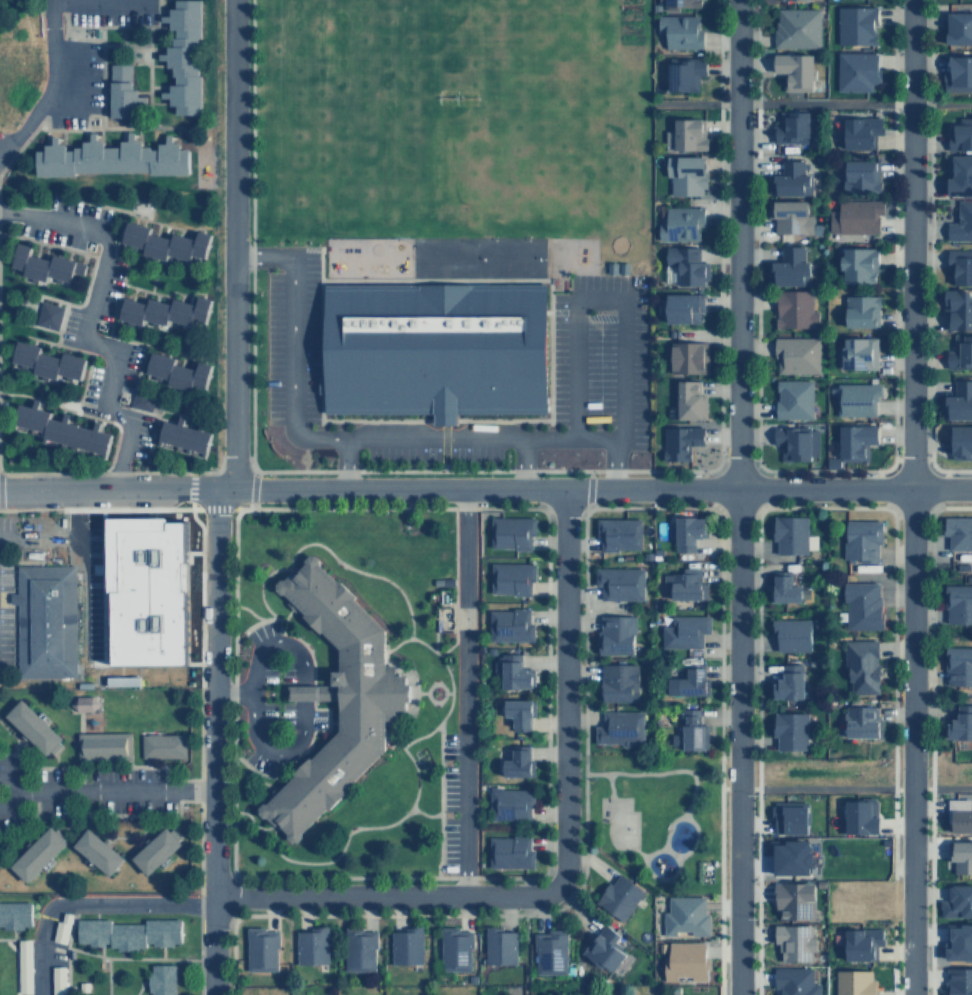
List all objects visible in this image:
building: (799, 0)
building: (681, 3)
parking lot: (111, 11)
building: (854, 25)
building: (958, 27)
building: (795, 28)
building: (680, 31)
road: (73, 35)
road: (150, 50)
building: (186, 58)
road: (126, 61)
building: (793, 70)
building: (854, 71)
building: (684, 72)
building: (957, 74)
parking lot: (74, 81)
road: (48, 82)
building: (125, 91)
road: (811, 102)
road: (102, 107)
building: (793, 126)
road: (137, 127)
road: (167, 128)
building: (859, 131)
building: (960, 133)
building: (687, 134)
building: (109, 156)
building: (958, 172)
building: (685, 173)
building: (854, 176)
building: (788, 178)
park: (142, 204)
road: (131, 215)
building: (790, 216)
building: (853, 217)
building: (682, 221)
building: (960, 222)
road: (717, 229)
road: (753, 229)
road: (890, 229)
road: (927, 229)
road: (248, 235)
building: (165, 242)
building: (45, 264)
building: (857, 264)
building: (684, 265)
building: (959, 265)
building: (792, 266)
road: (166, 295)
road: (602, 299)
road: (33, 301)
building: (681, 306)
building: (957, 308)
building: (790, 309)
building: (859, 310)
building: (163, 312)
building: (49, 315)
road: (84, 334)
road: (57, 337)
road: (27, 338)
parking lot: (291, 339)
road: (135, 342)
building: (432, 349)
building: (960, 351)
parking lot: (600, 352)
building: (856, 352)
building: (795, 353)
building: (687, 356)
building: (48, 362)
building: (180, 372)
building: (856, 397)
road: (38, 398)
building: (791, 398)
building: (958, 400)
building: (689, 401)
building: (146, 403)
building: (63, 430)
building: (186, 437)
road: (360, 438)
building: (854, 439)
building: (961, 441)
building: (678, 442)
building: (795, 442)
parking lot: (433, 454)
road: (522, 462)
road: (344, 463)
road: (496, 471)
road: (485, 488)
road: (766, 488)
road: (874, 488)
road: (941, 488)
road: (186, 489)
road: (247, 489)
road: (584, 489)
road: (699, 489)
road: (219, 496)
road: (737, 497)
road: (909, 497)
road: (501, 507)
building: (510, 531)
building: (685, 531)
building: (958, 531)
building: (619, 533)
building: (789, 534)
building: (860, 539)
road: (356, 570)
building: (510, 577)
road: (103, 583)
building: (619, 583)
building: (681, 583)
road: (453, 586)
building: (783, 587)
parking lot: (47, 589)
building: (148, 594)
road: (259, 597)
road: (232, 601)
building: (860, 604)
building: (957, 605)
road: (249, 612)
building: (839, 615)
building: (46, 621)
building: (877, 622)
road: (254, 624)
building: (508, 624)
parking lot: (259, 630)
building: (684, 631)
road: (434, 632)
building: (615, 635)
building: (790, 635)
road: (232, 636)
road: (276, 642)
road: (303, 643)
road: (579, 644)
building: (860, 666)
building: (958, 667)
parking lot: (268, 671)
parking lot: (286, 671)
building: (514, 671)
road: (301, 675)
building: (692, 679)
building: (123, 680)
road: (448, 680)
road: (434, 682)
building: (788, 682)
building: (617, 683)
road: (564, 688)
road: (233, 691)
road: (416, 691)
road: (447, 691)
road: (460, 693)
road: (251, 694)
road: (890, 697)
building: (334, 698)
road: (435, 700)
building: (85, 702)
road: (228, 702)
building: (518, 712)
parking lot: (286, 713)
road: (300, 713)
parking lot: (268, 714)
building: (860, 721)
road: (331, 722)
building: (959, 724)
building: (31, 726)
building: (618, 728)
building: (788, 730)
building: (682, 731)
road: (17, 737)
road: (13, 739)
building: (161, 745)
building: (101, 746)
road: (196, 749)
road: (274, 749)
road: (231, 753)
road: (297, 753)
road: (52, 756)
road: (753, 756)
road: (927, 756)
road: (716, 757)
road: (78, 761)
road: (150, 761)
building: (514, 761)
road: (413, 765)
road: (101, 766)
road: (655, 772)
road: (260, 780)
road: (822, 787)
road: (940, 787)
road: (106, 789)
road: (439, 800)
parking lot: (449, 801)
building: (511, 803)
road: (231, 810)
road: (102, 813)
building: (960, 813)
park: (650, 818)
building: (860, 818)
building: (787, 819)
road: (251, 820)
road: (67, 827)
road: (73, 832)
road: (125, 836)
road: (20, 837)
road: (144, 838)
road: (343, 838)
road: (106, 839)
road: (631, 844)
road: (689, 844)
building: (153, 850)
building: (509, 851)
building: (95, 852)
building: (35, 854)
building: (961, 855)
building: (791, 856)
road: (542, 859)
road: (658, 876)
road: (526, 889)
building: (617, 896)
road: (386, 898)
building: (795, 900)
building: (958, 901)
road: (88, 903)
building: (14, 915)
road: (457, 915)
building: (682, 916)
building: (127, 933)
road: (11, 935)
road: (67, 935)
road: (14, 939)
building: (795, 940)
building: (959, 941)
building: (865, 942)
building: (498, 943)
building: (406, 944)
building: (312, 945)
building: (260, 946)
road: (227, 947)
road: (525, 947)
building: (358, 948)
building: (455, 948)
building: (604, 948)
building: (549, 951)
road: (161, 952)
road: (126, 954)
road: (121, 957)
road: (891, 960)
building: (683, 963)
road: (16, 965)
road: (107, 976)
building: (160, 979)
building: (794, 982)
building: (857, 982)
building: (959, 982)
road: (138, 987)

